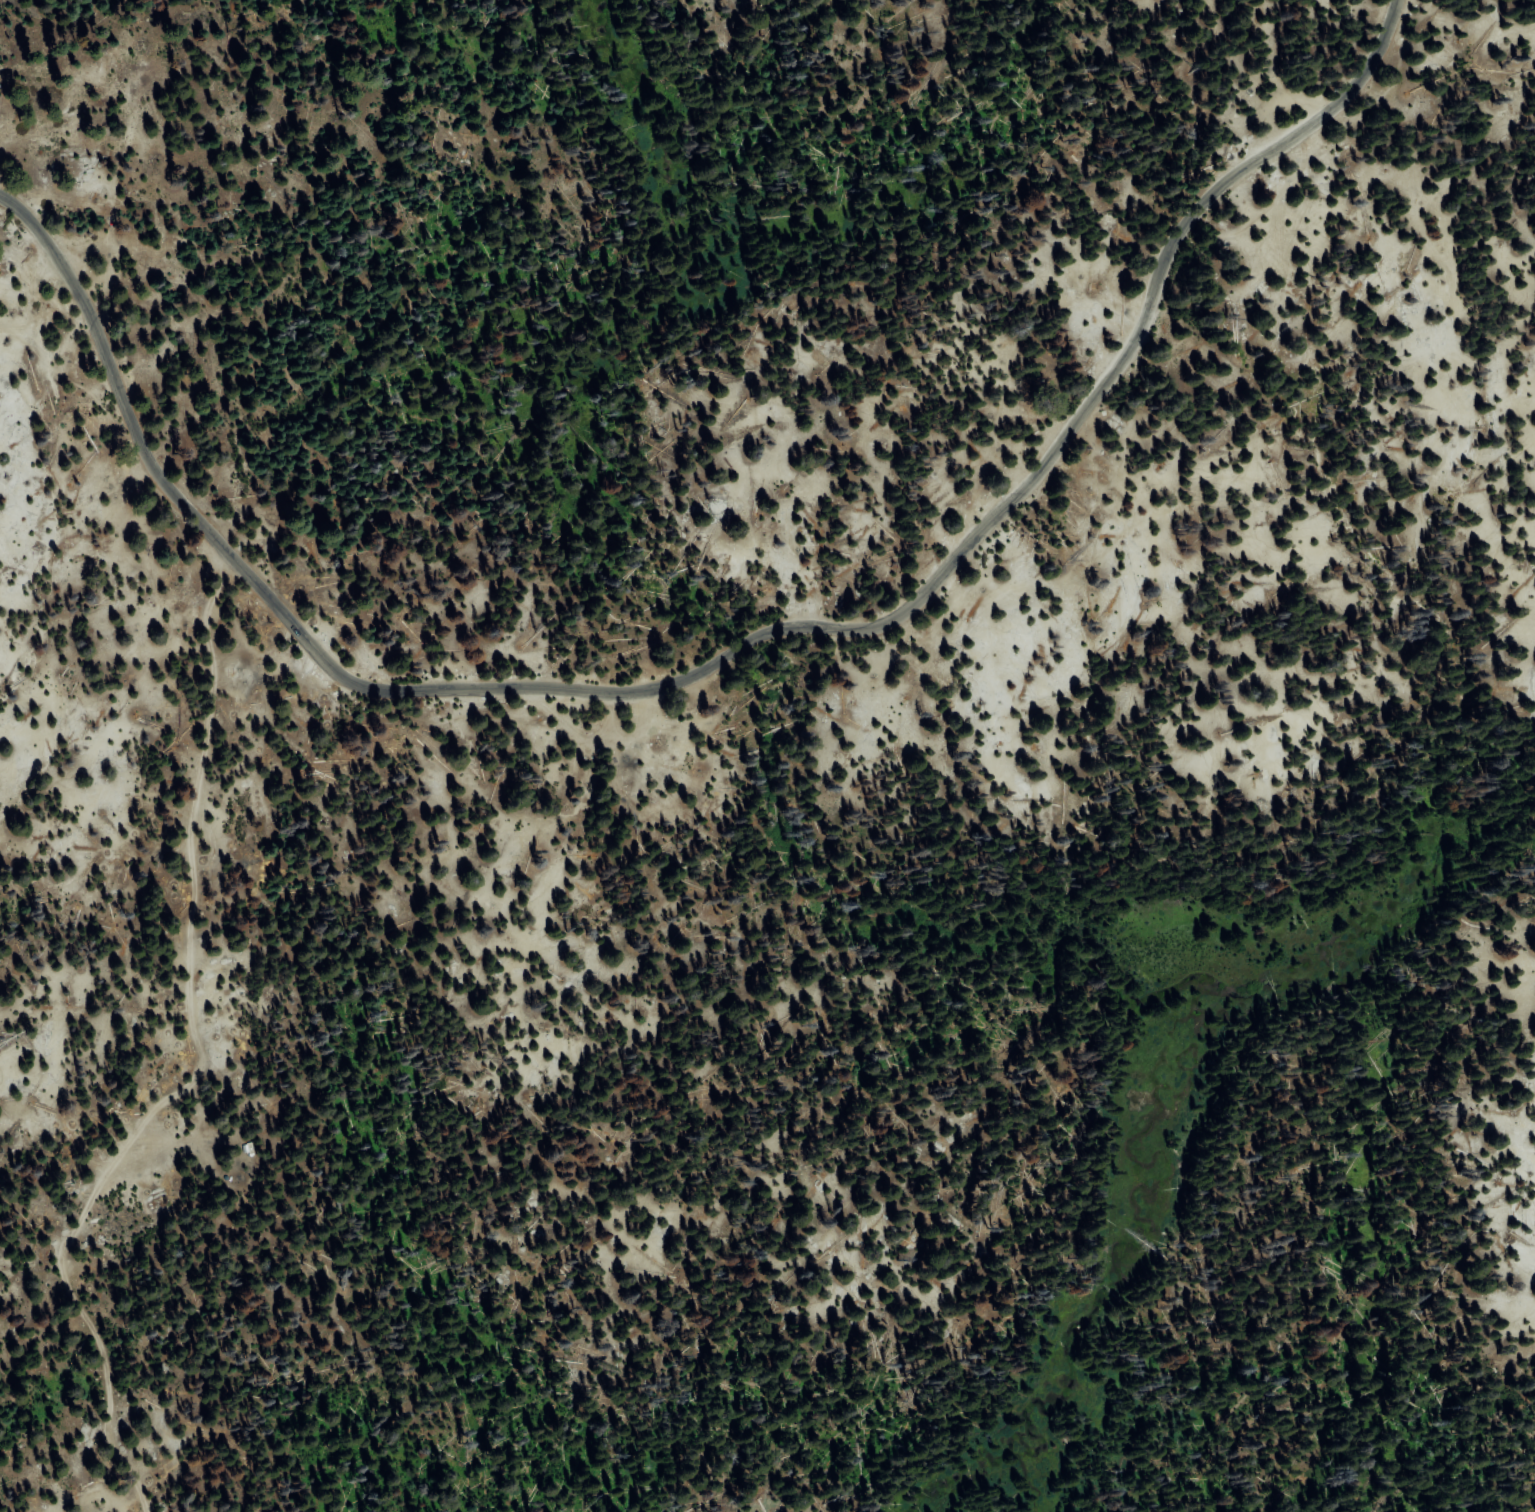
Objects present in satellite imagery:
road: (727, 658)
road: (190, 1063)

